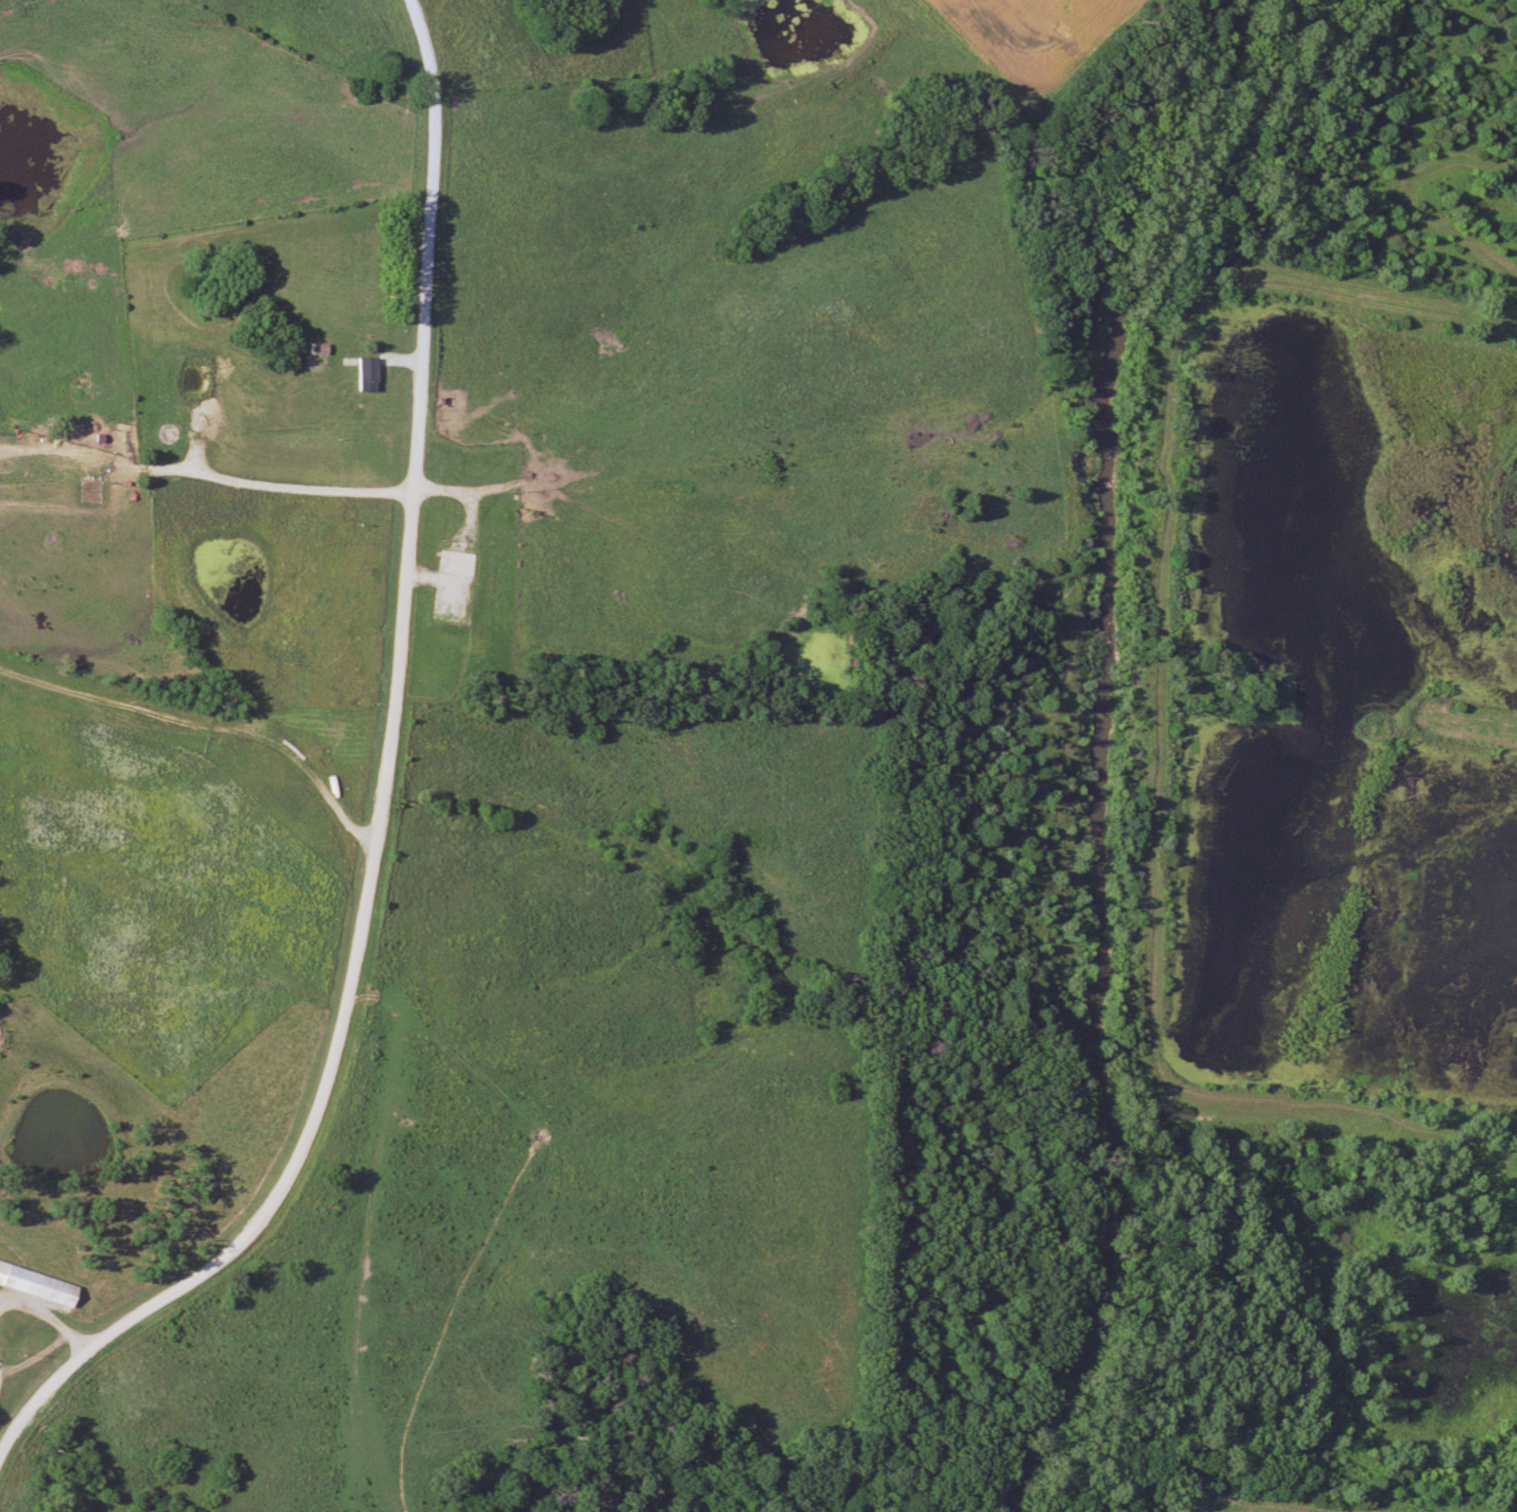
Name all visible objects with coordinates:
road: (203, 472)
building: (458, 588)
road: (206, 723)
road: (377, 792)
building: (40, 1284)
road: (1, 1299)
road: (47, 1316)

